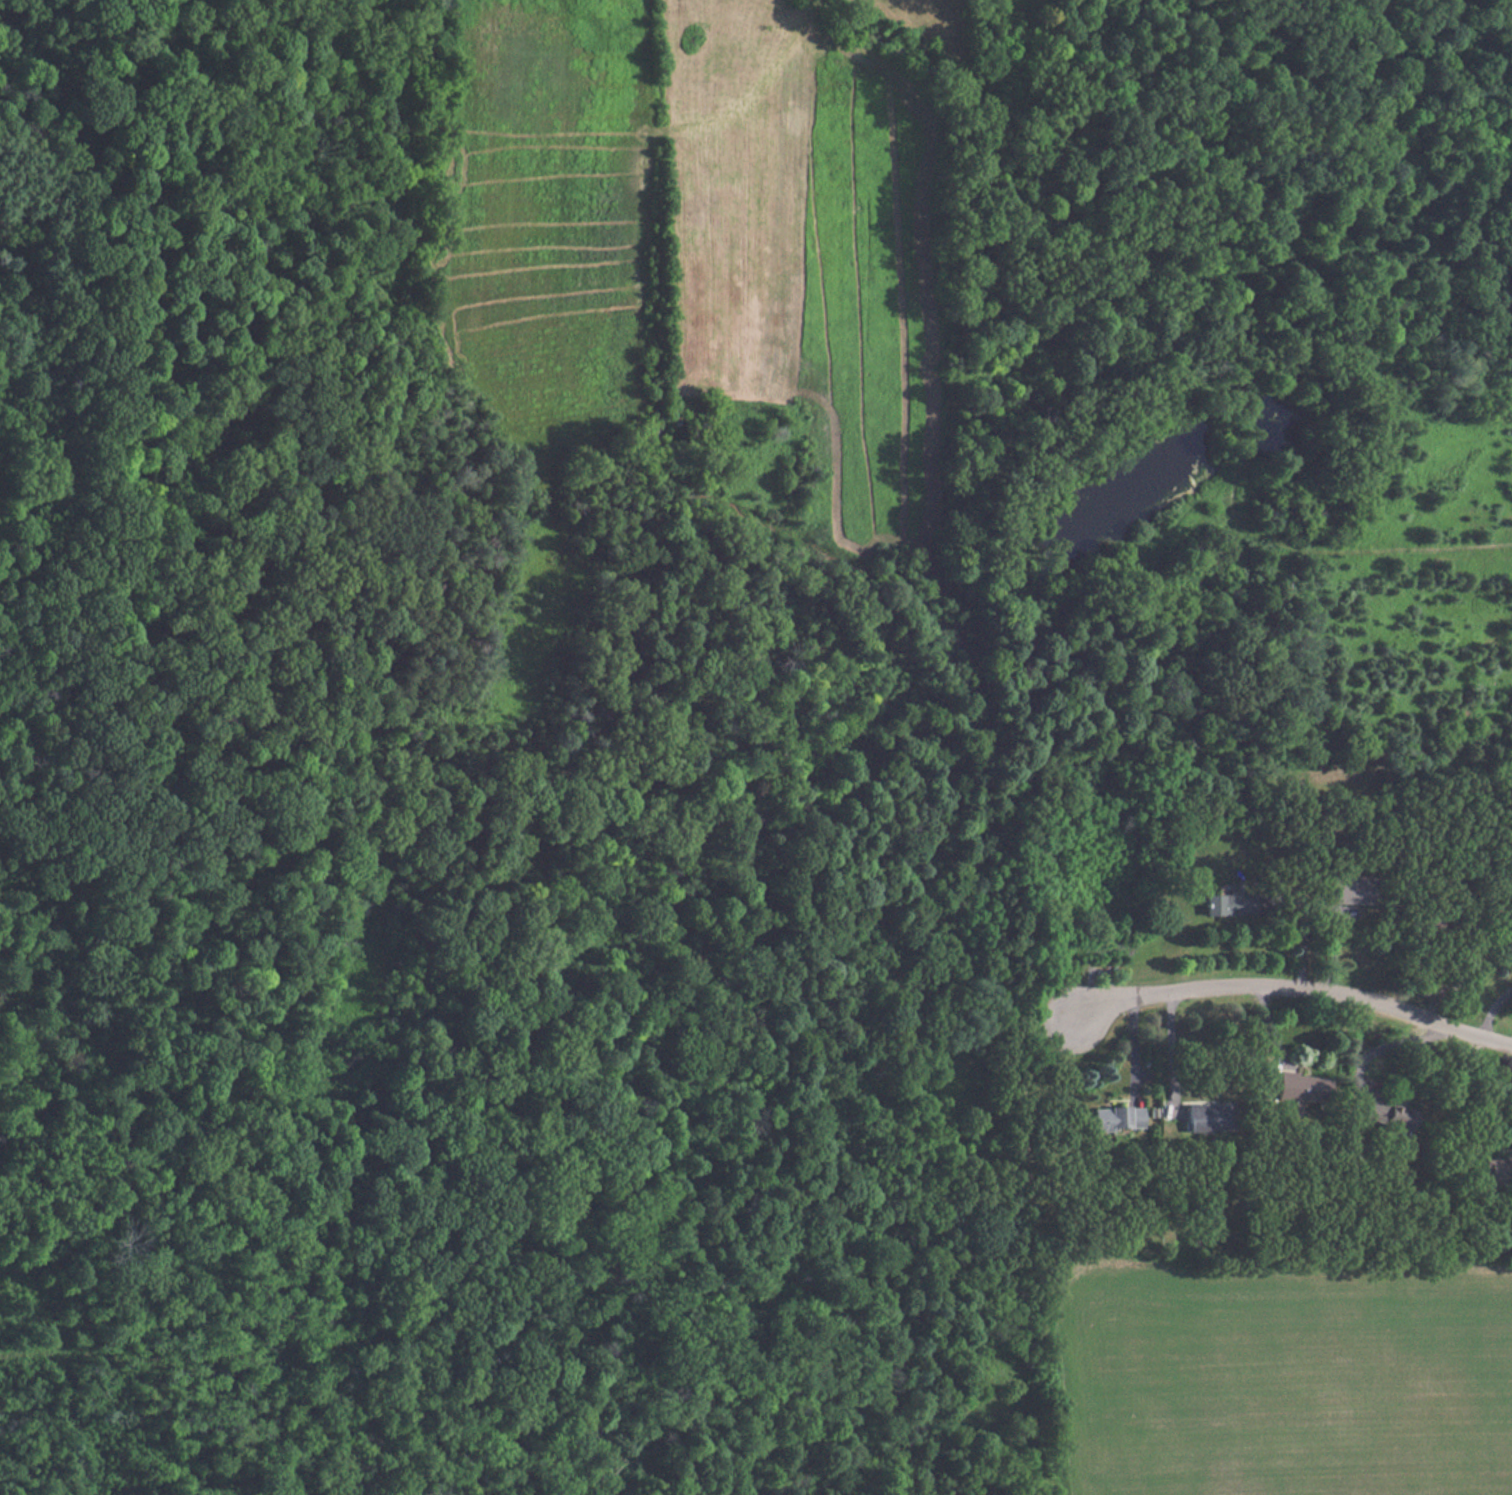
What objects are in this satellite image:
building: (1229, 904)
road: (1303, 927)
building: (1508, 942)
road: (1333, 952)
road: (1295, 988)
road: (1492, 1011)
road: (1269, 1029)
road: (1386, 1048)
road: (1131, 1051)
road: (1170, 1053)
building: (1388, 1114)
building: (1204, 1116)
building: (1117, 1117)
building: (1495, 1166)

